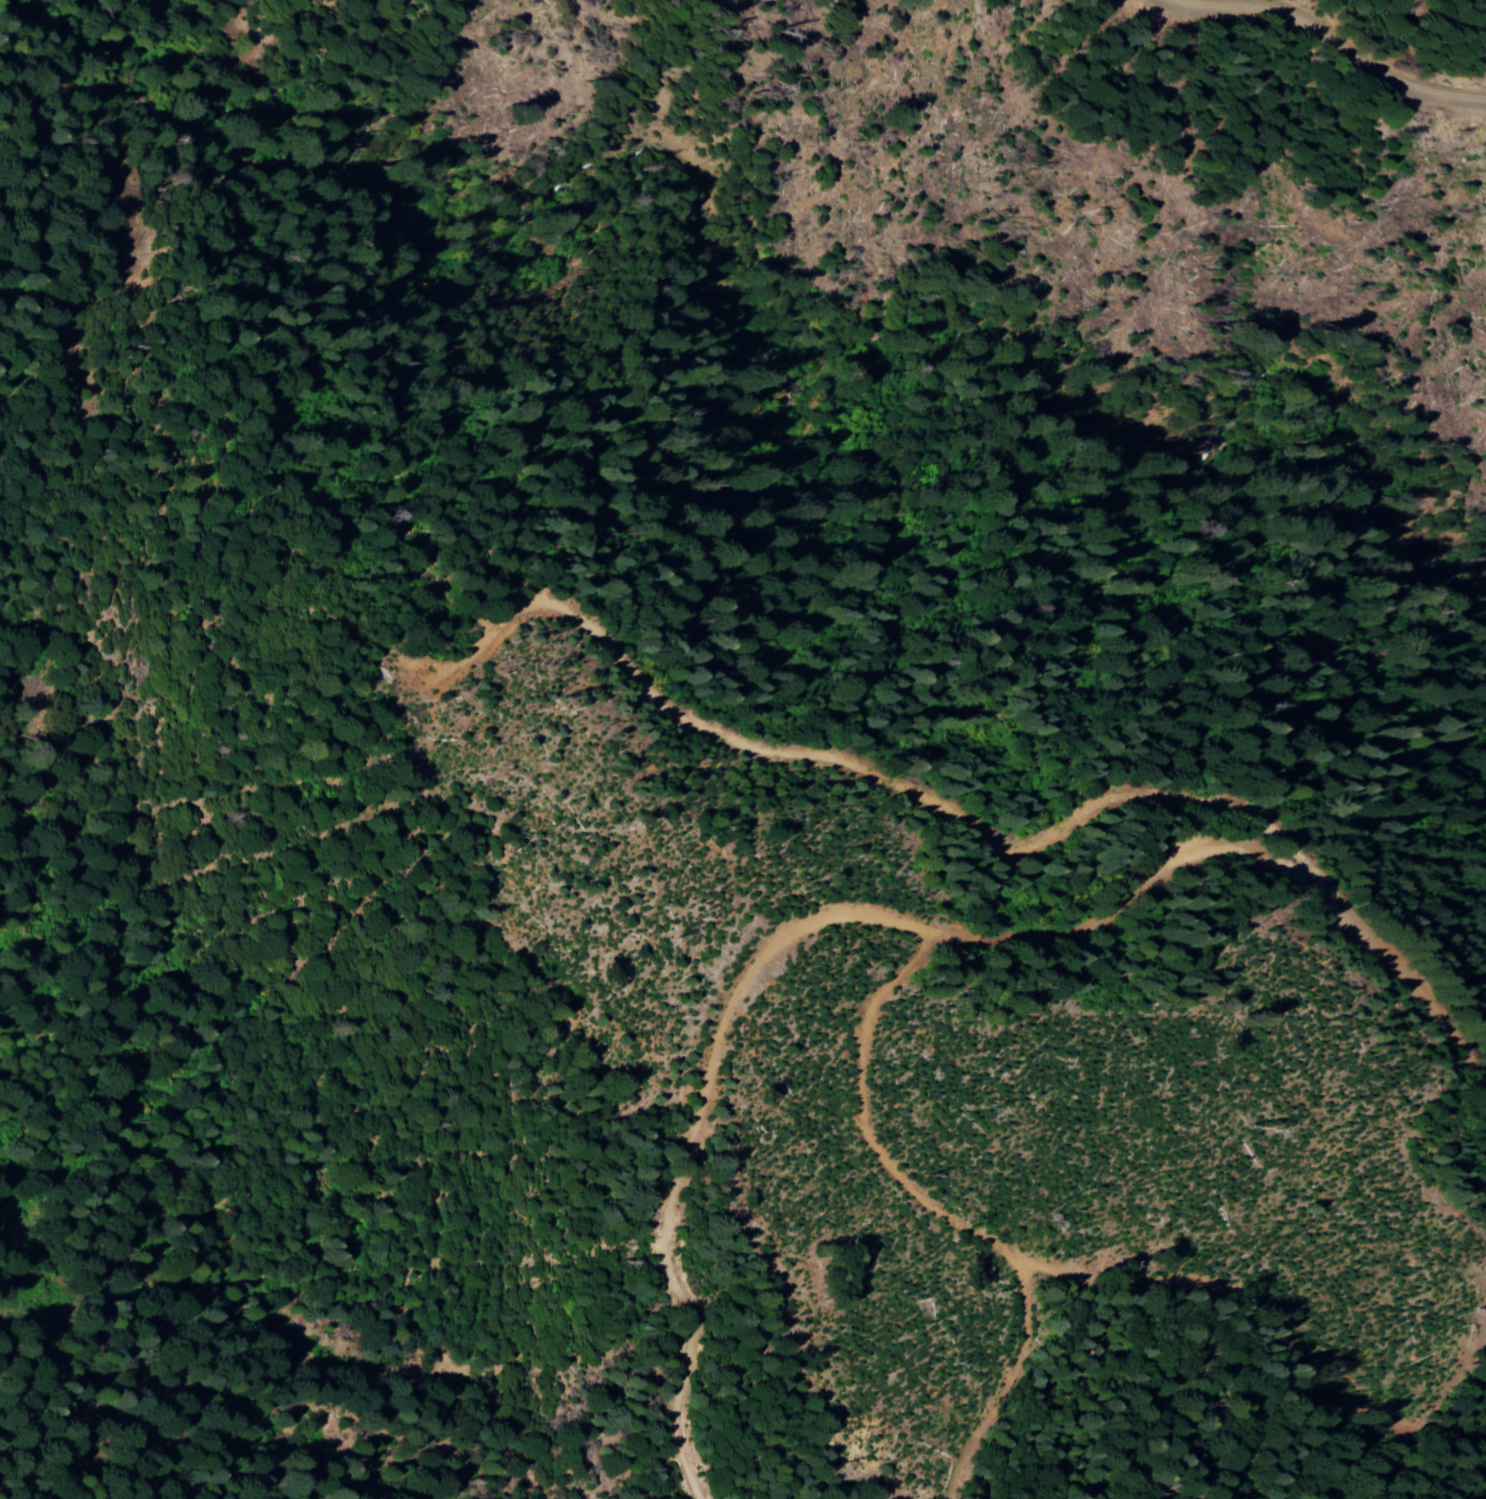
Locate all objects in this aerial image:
road: (1389, 31)
road: (1329, 37)
road: (886, 923)

